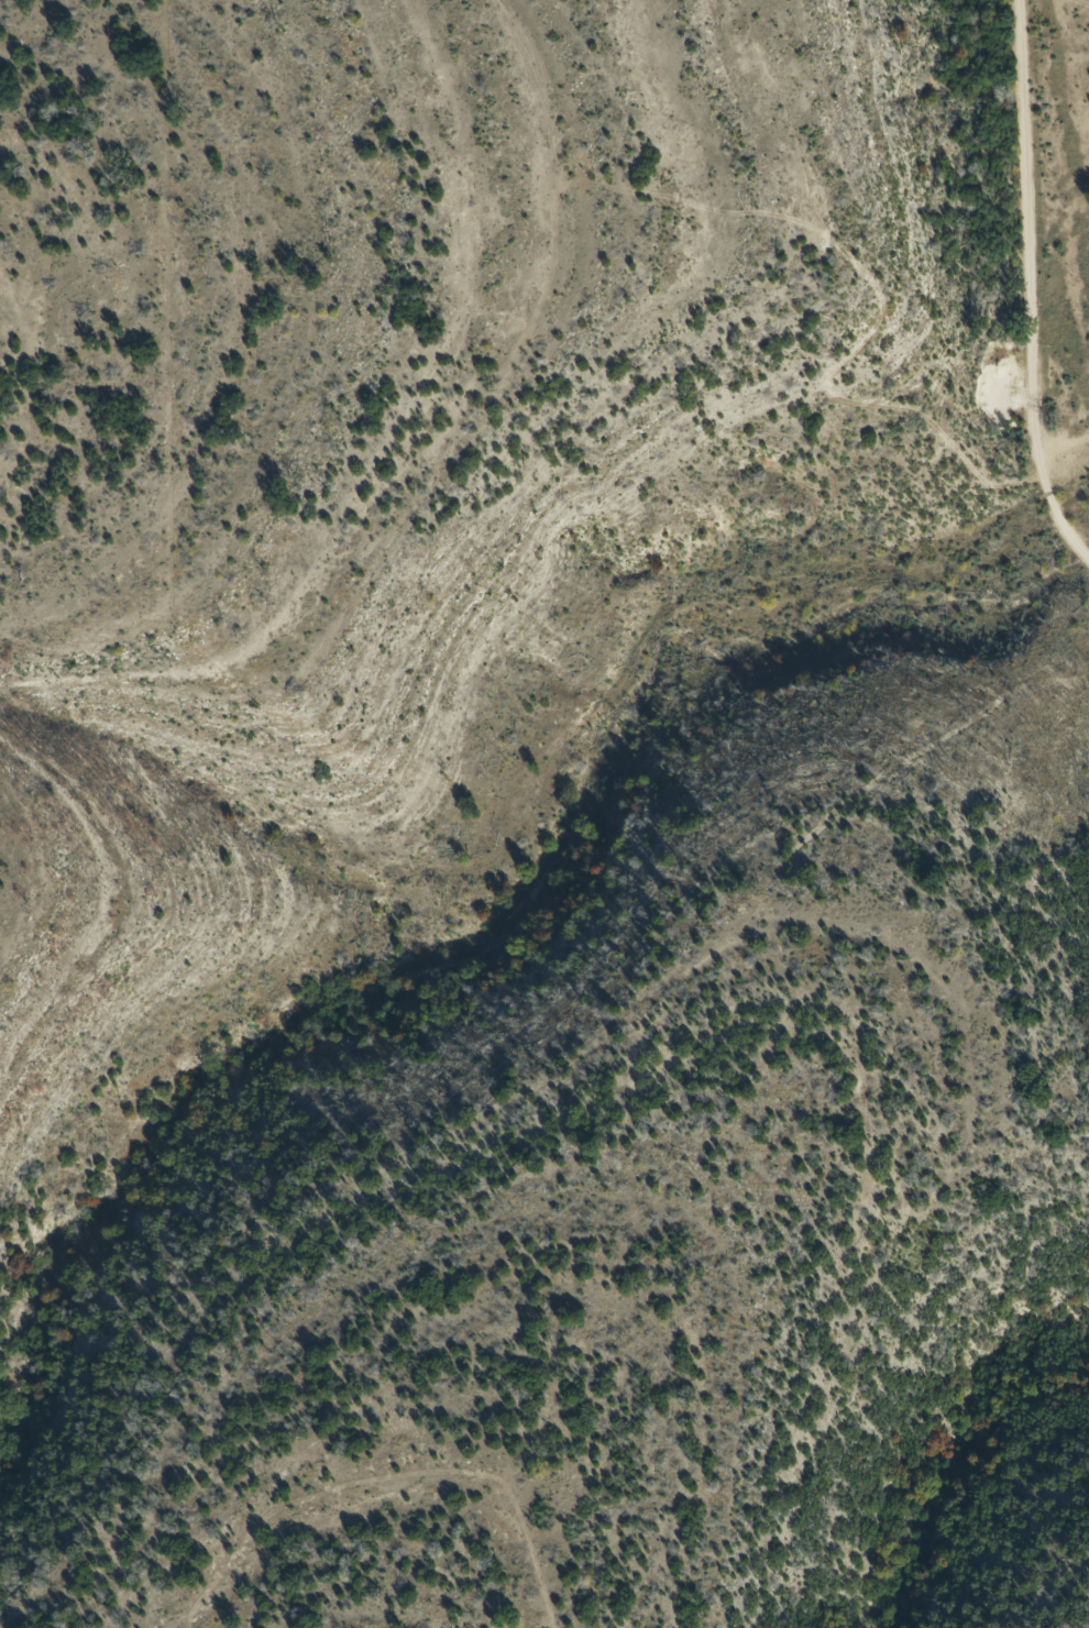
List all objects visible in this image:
road: (1033, 296)

